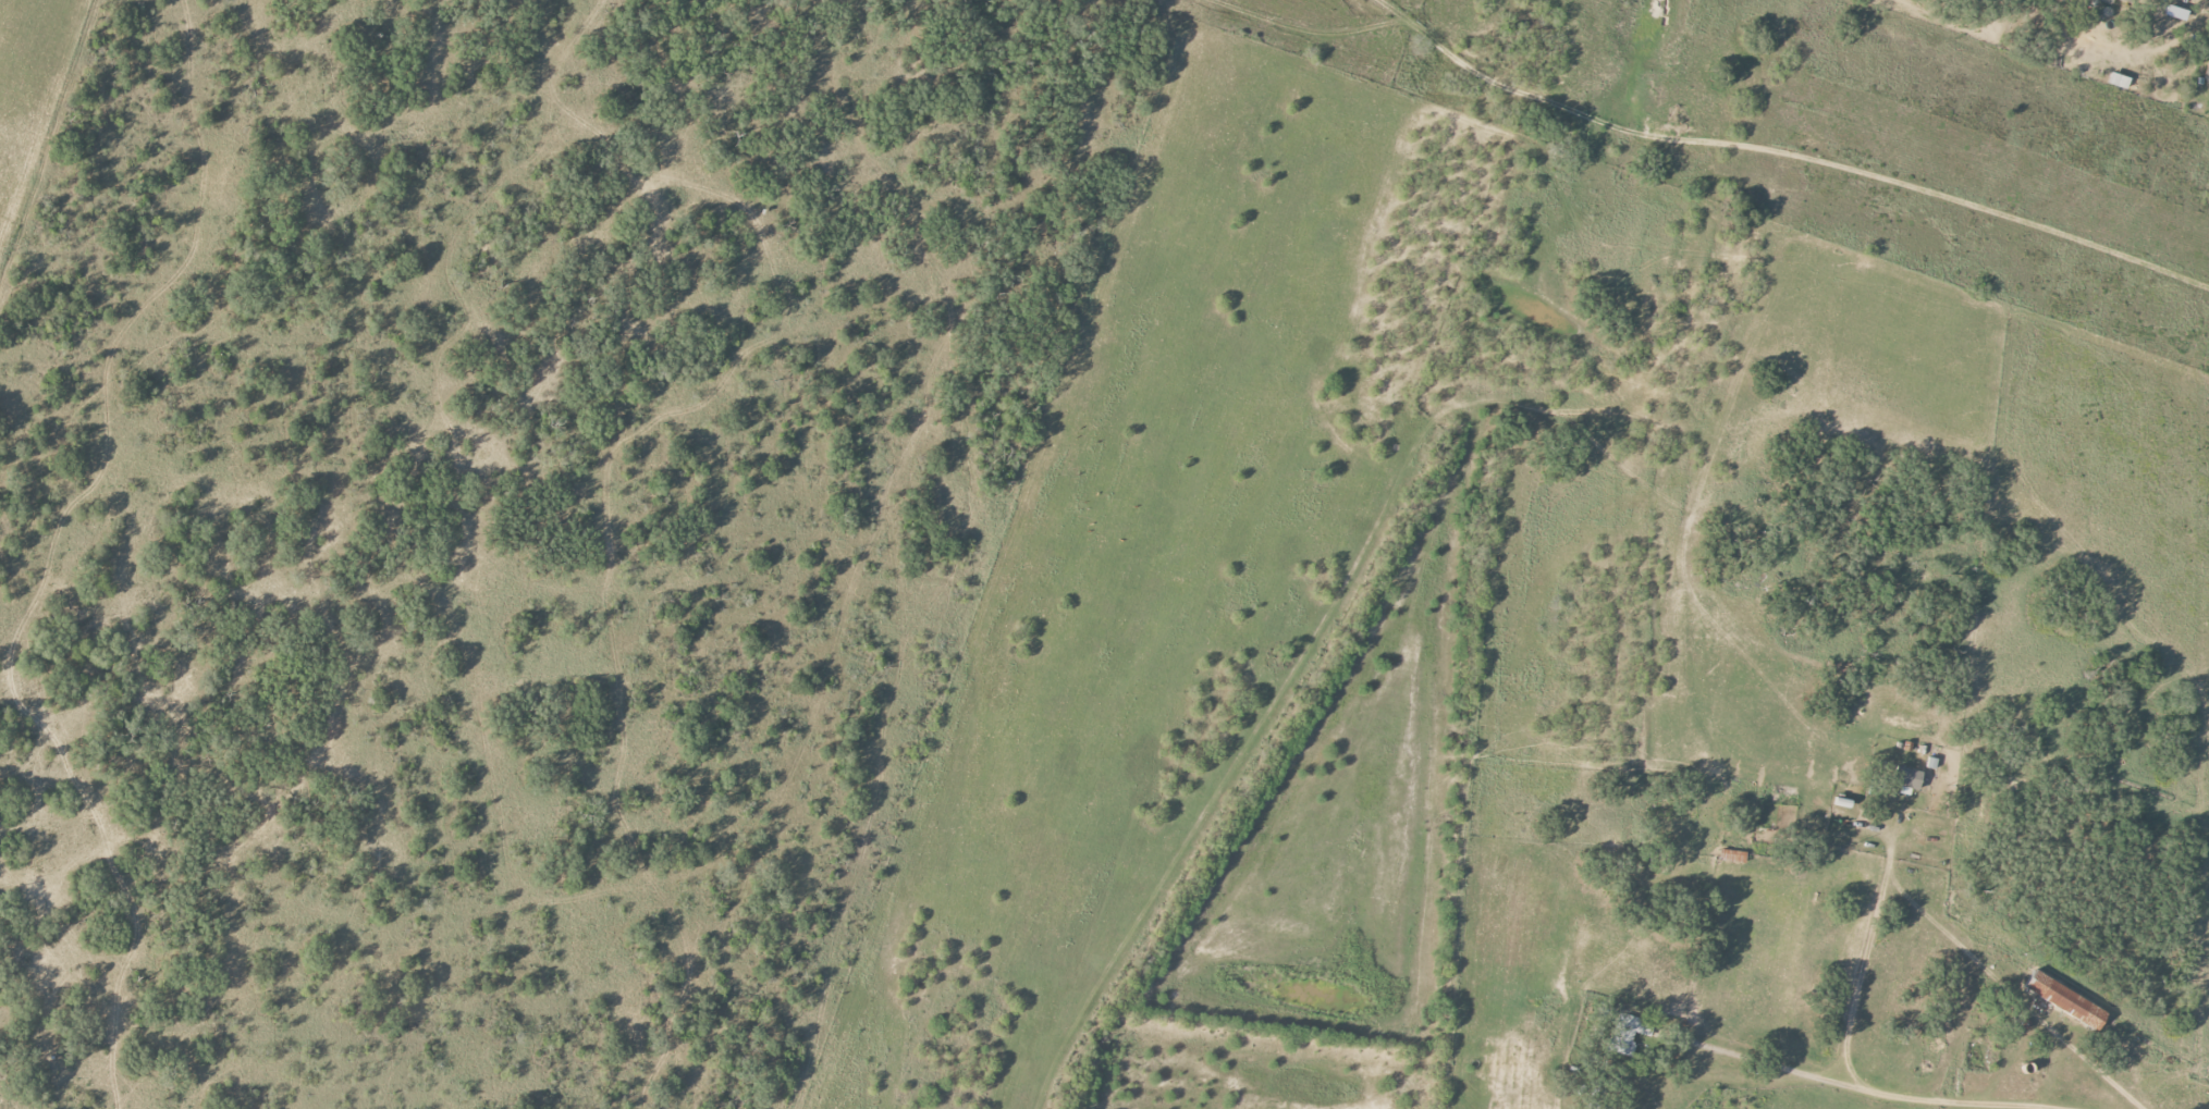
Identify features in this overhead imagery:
building: (2125, 1)
building: (2207, 73)
building: (2119, 81)
building: (1907, 781)
road: (1862, 969)
road: (1993, 976)
building: (2065, 1001)
building: (1628, 1033)
road: (1854, 1077)

